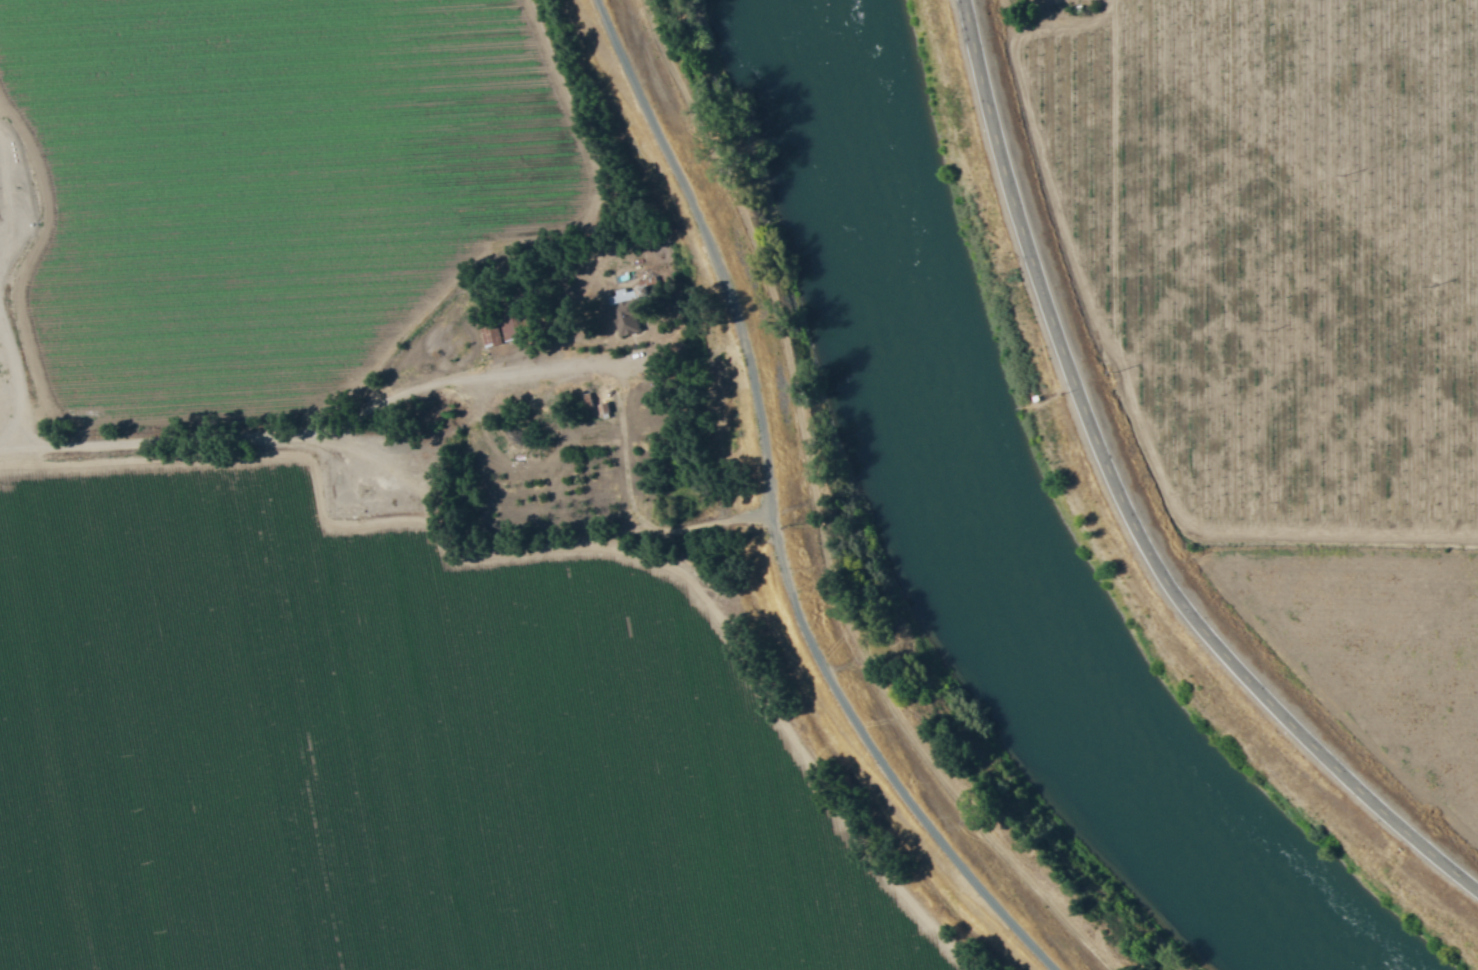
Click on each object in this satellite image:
building: (629, 323)
road: (15, 372)
road: (442, 378)
road: (1130, 499)
road: (776, 513)
river: (977, 540)

